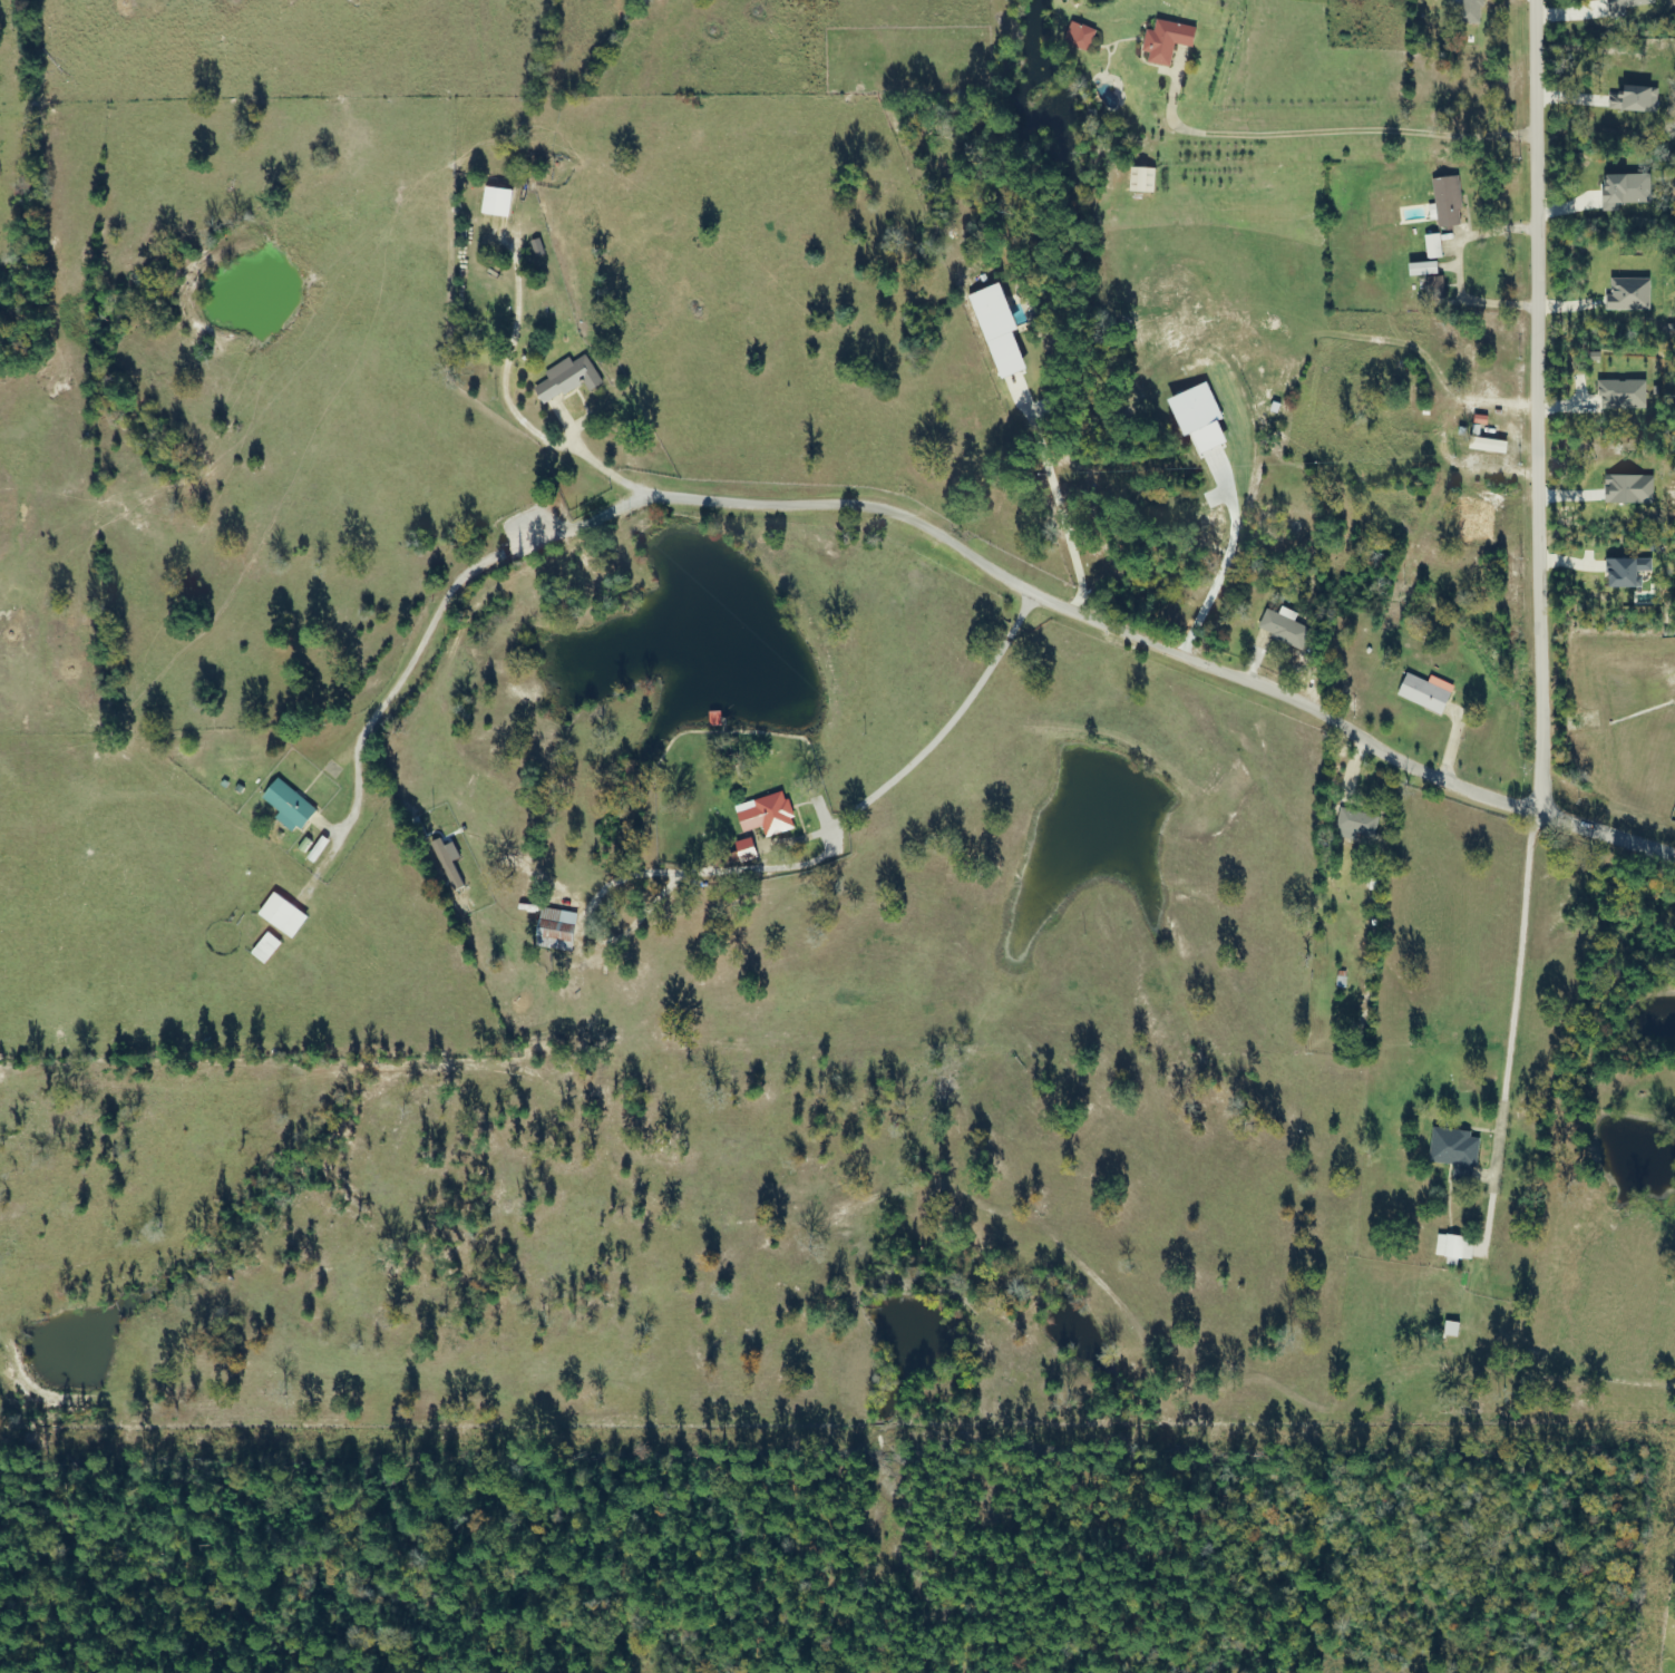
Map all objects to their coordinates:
building: (1473, 11)
building: (1084, 39)
building: (1168, 42)
road: (1313, 133)
building: (1145, 179)
building: (496, 193)
building: (1449, 202)
building: (1434, 245)
building: (1425, 269)
building: (1439, 291)
building: (1470, 362)
building: (571, 379)
road: (508, 403)
road: (1536, 406)
building: (1486, 435)
road: (1068, 505)
road: (1094, 624)
building: (1286, 630)
building: (1428, 692)
road: (381, 710)
road: (945, 728)
building: (292, 806)
building: (768, 815)
building: (1357, 823)
building: (741, 853)
building: (286, 915)
building: (559, 930)
road: (1510, 1032)
building: (1459, 1152)
road: (915, 1191)
building: (1458, 1247)

